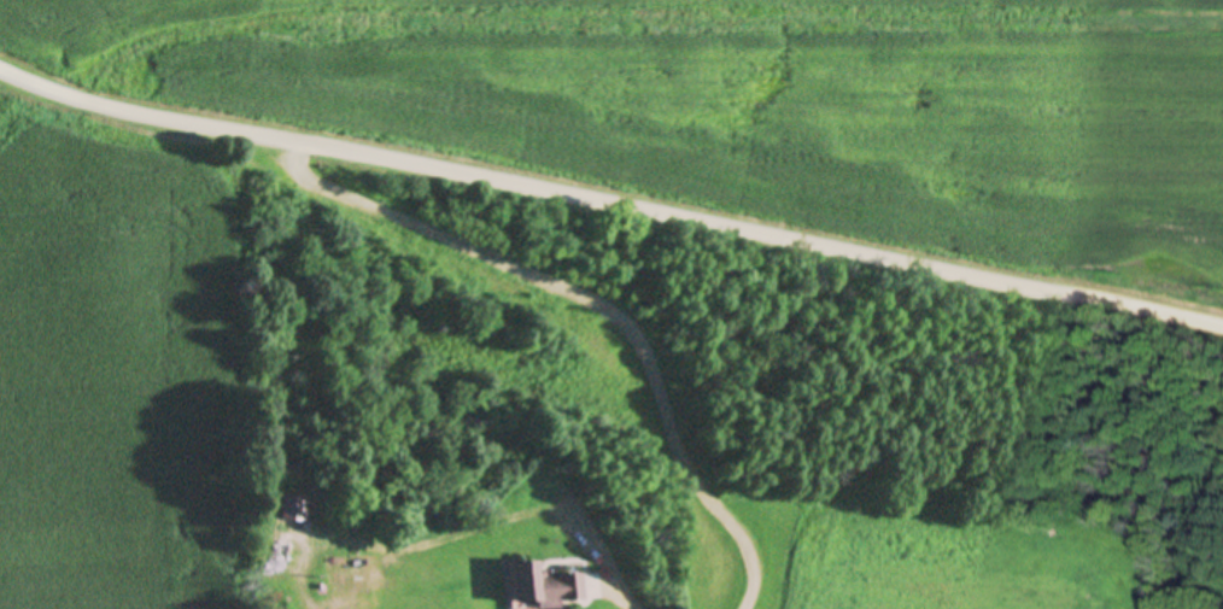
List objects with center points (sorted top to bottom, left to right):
road: (609, 197)
road: (605, 301)
building: (543, 587)
road: (614, 588)

